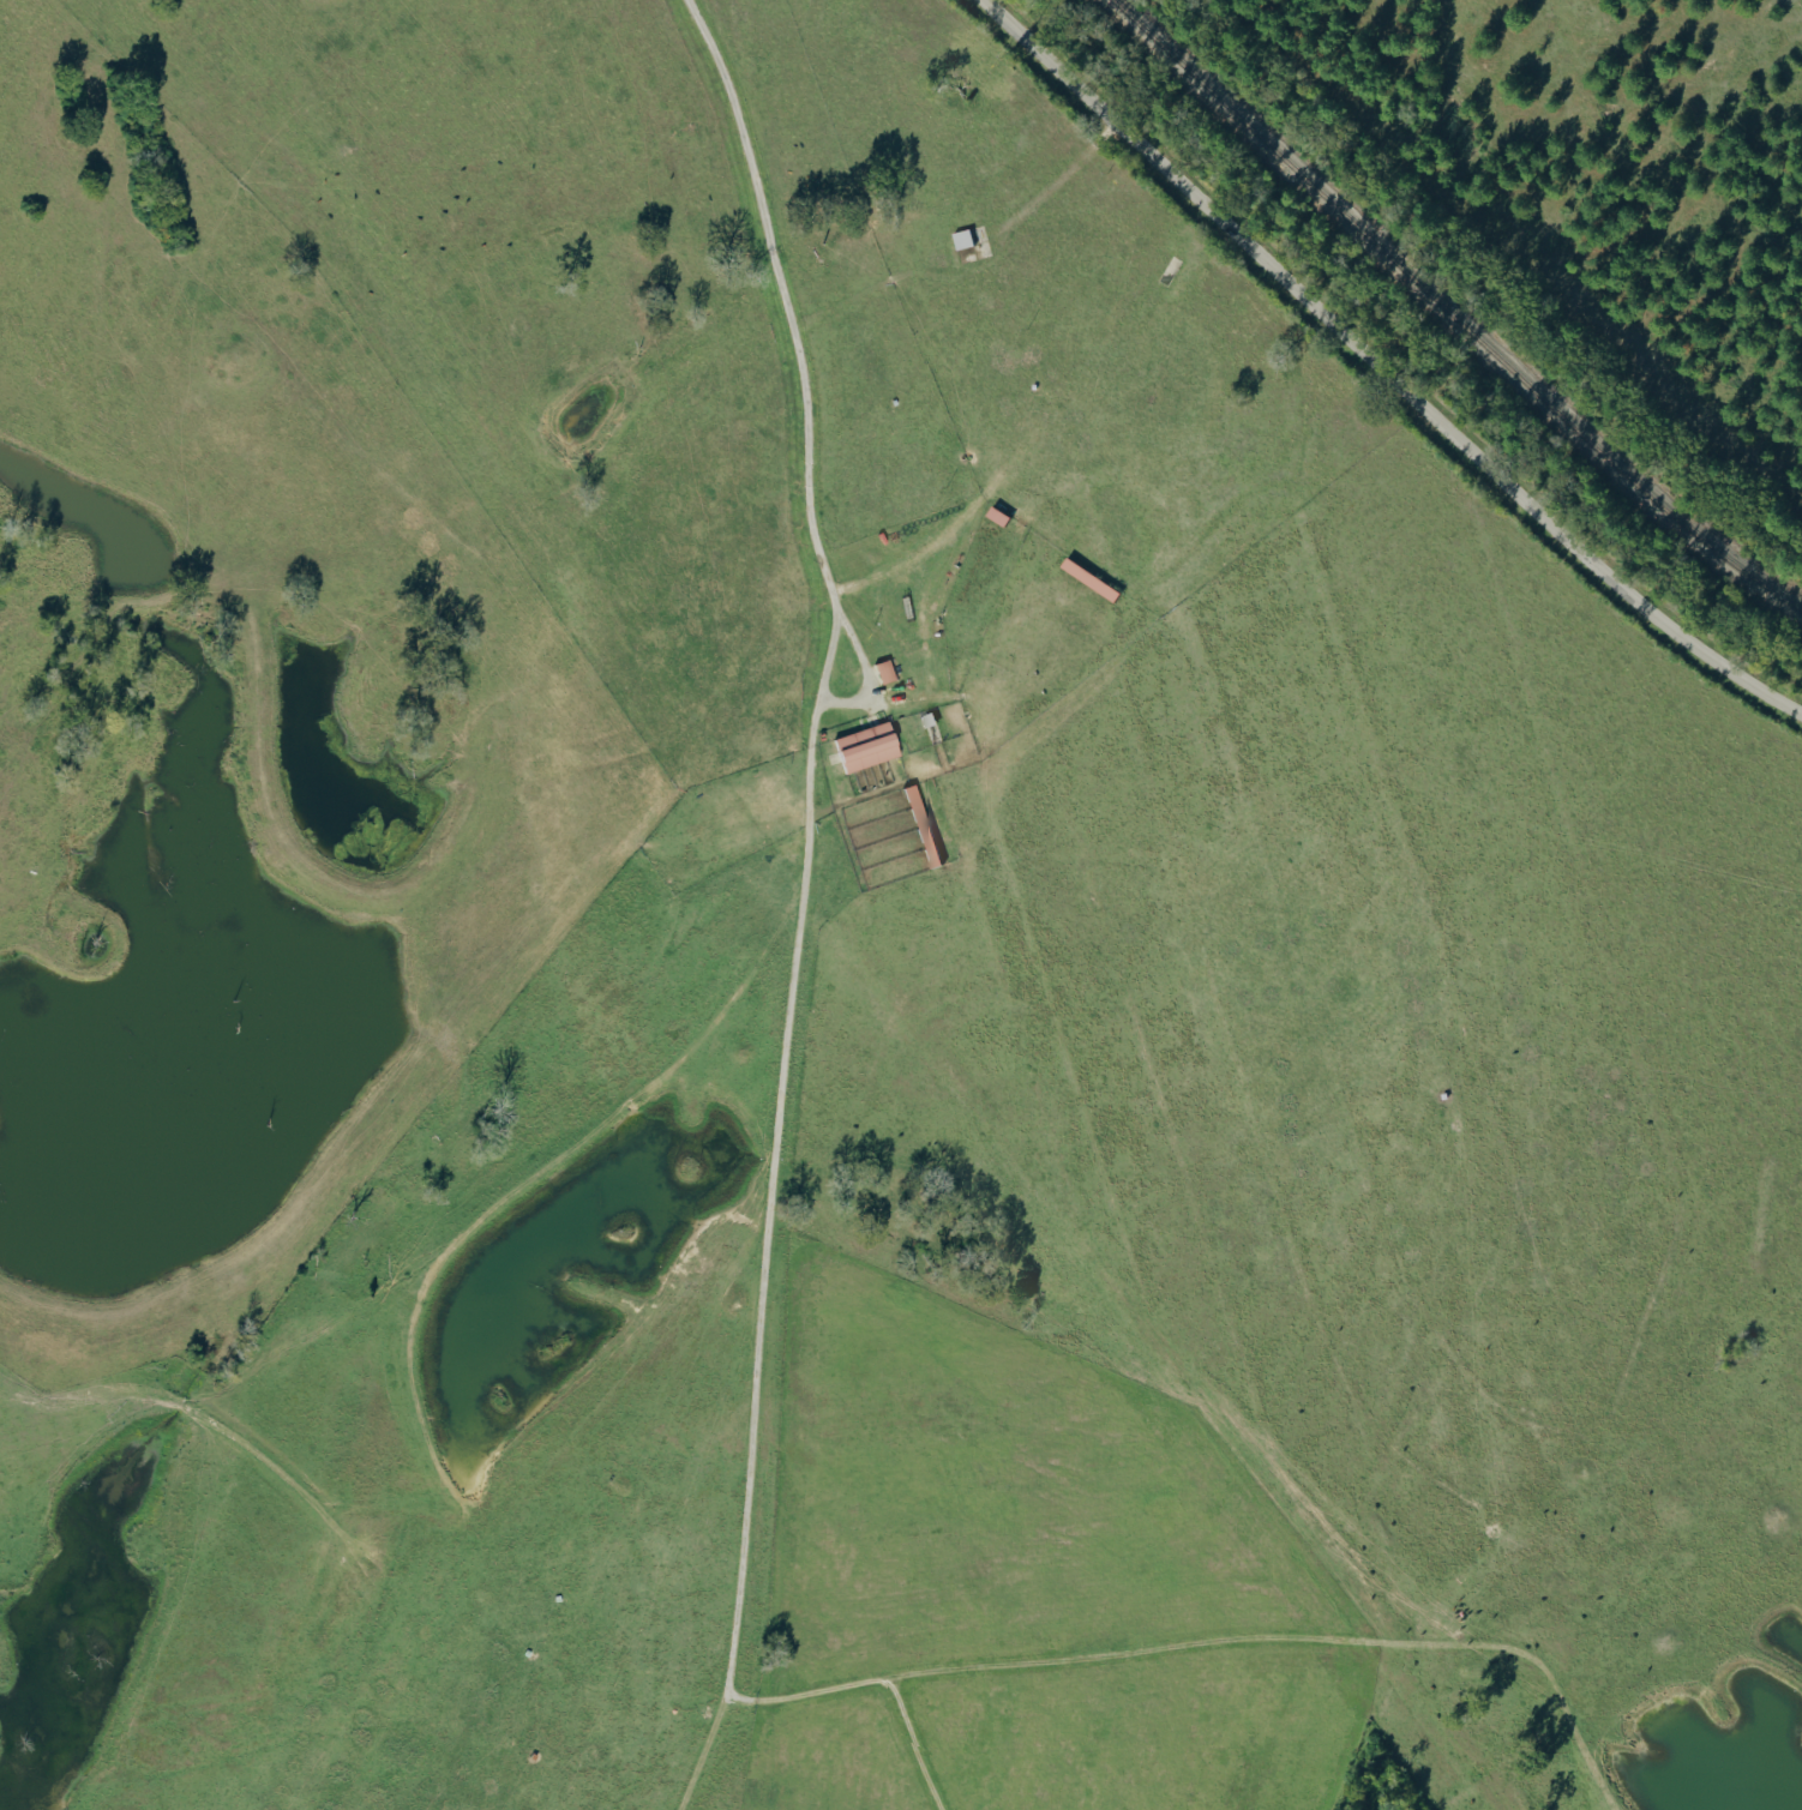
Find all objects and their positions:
building: (966, 240)
building: (978, 253)
road: (785, 302)
railway: (1447, 315)
road: (1383, 368)
building: (1003, 518)
building: (889, 673)
road: (843, 700)
building: (872, 747)
road: (764, 1343)

